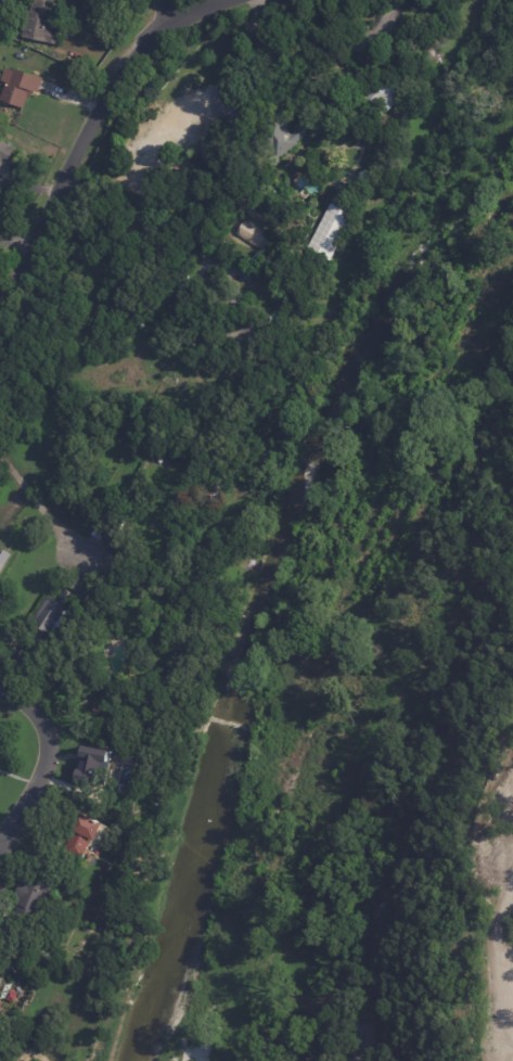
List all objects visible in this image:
road: (176, 8)
building: (43, 22)
road: (312, 52)
building: (20, 86)
building: (384, 92)
building: (370, 112)
building: (286, 136)
road: (88, 141)
building: (7, 152)
building: (369, 177)
road: (149, 222)
building: (334, 229)
building: (201, 230)
building: (254, 234)
building: (270, 260)
building: (241, 317)
building: (148, 419)
building: (138, 437)
road: (37, 503)
building: (110, 527)
building: (216, 545)
building: (4, 559)
building: (84, 588)
building: (60, 613)
building: (87, 763)
road: (29, 769)
building: (86, 835)
building: (512, 870)
building: (35, 892)
building: (506, 893)
building: (0, 971)
building: (1, 982)
building: (15, 995)
building: (329, 1032)
road: (357, 1043)

